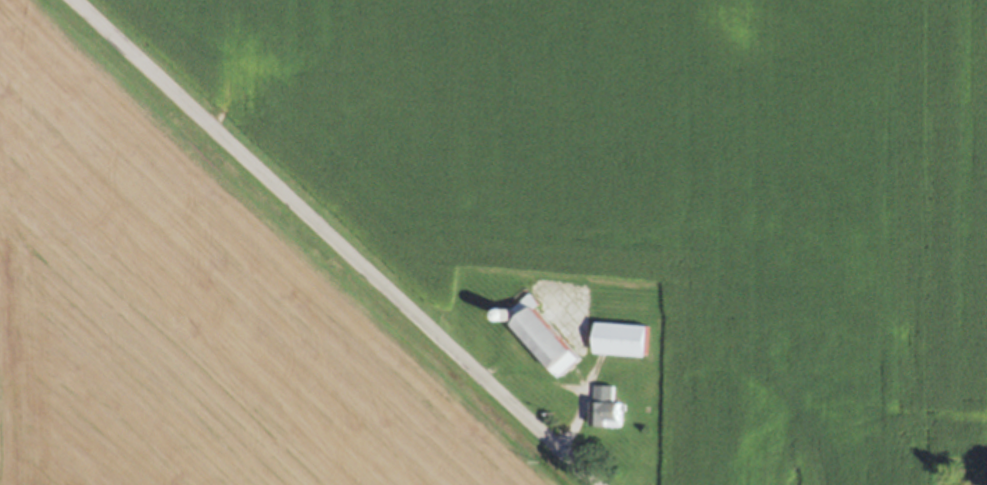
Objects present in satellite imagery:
road: (315, 242)
building: (546, 338)
building: (625, 342)
building: (609, 410)

